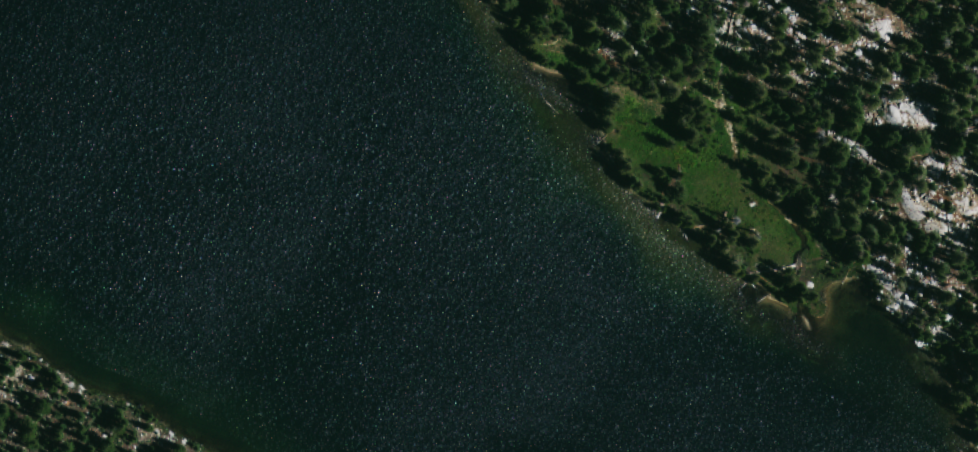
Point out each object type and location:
road: (689, 104)

